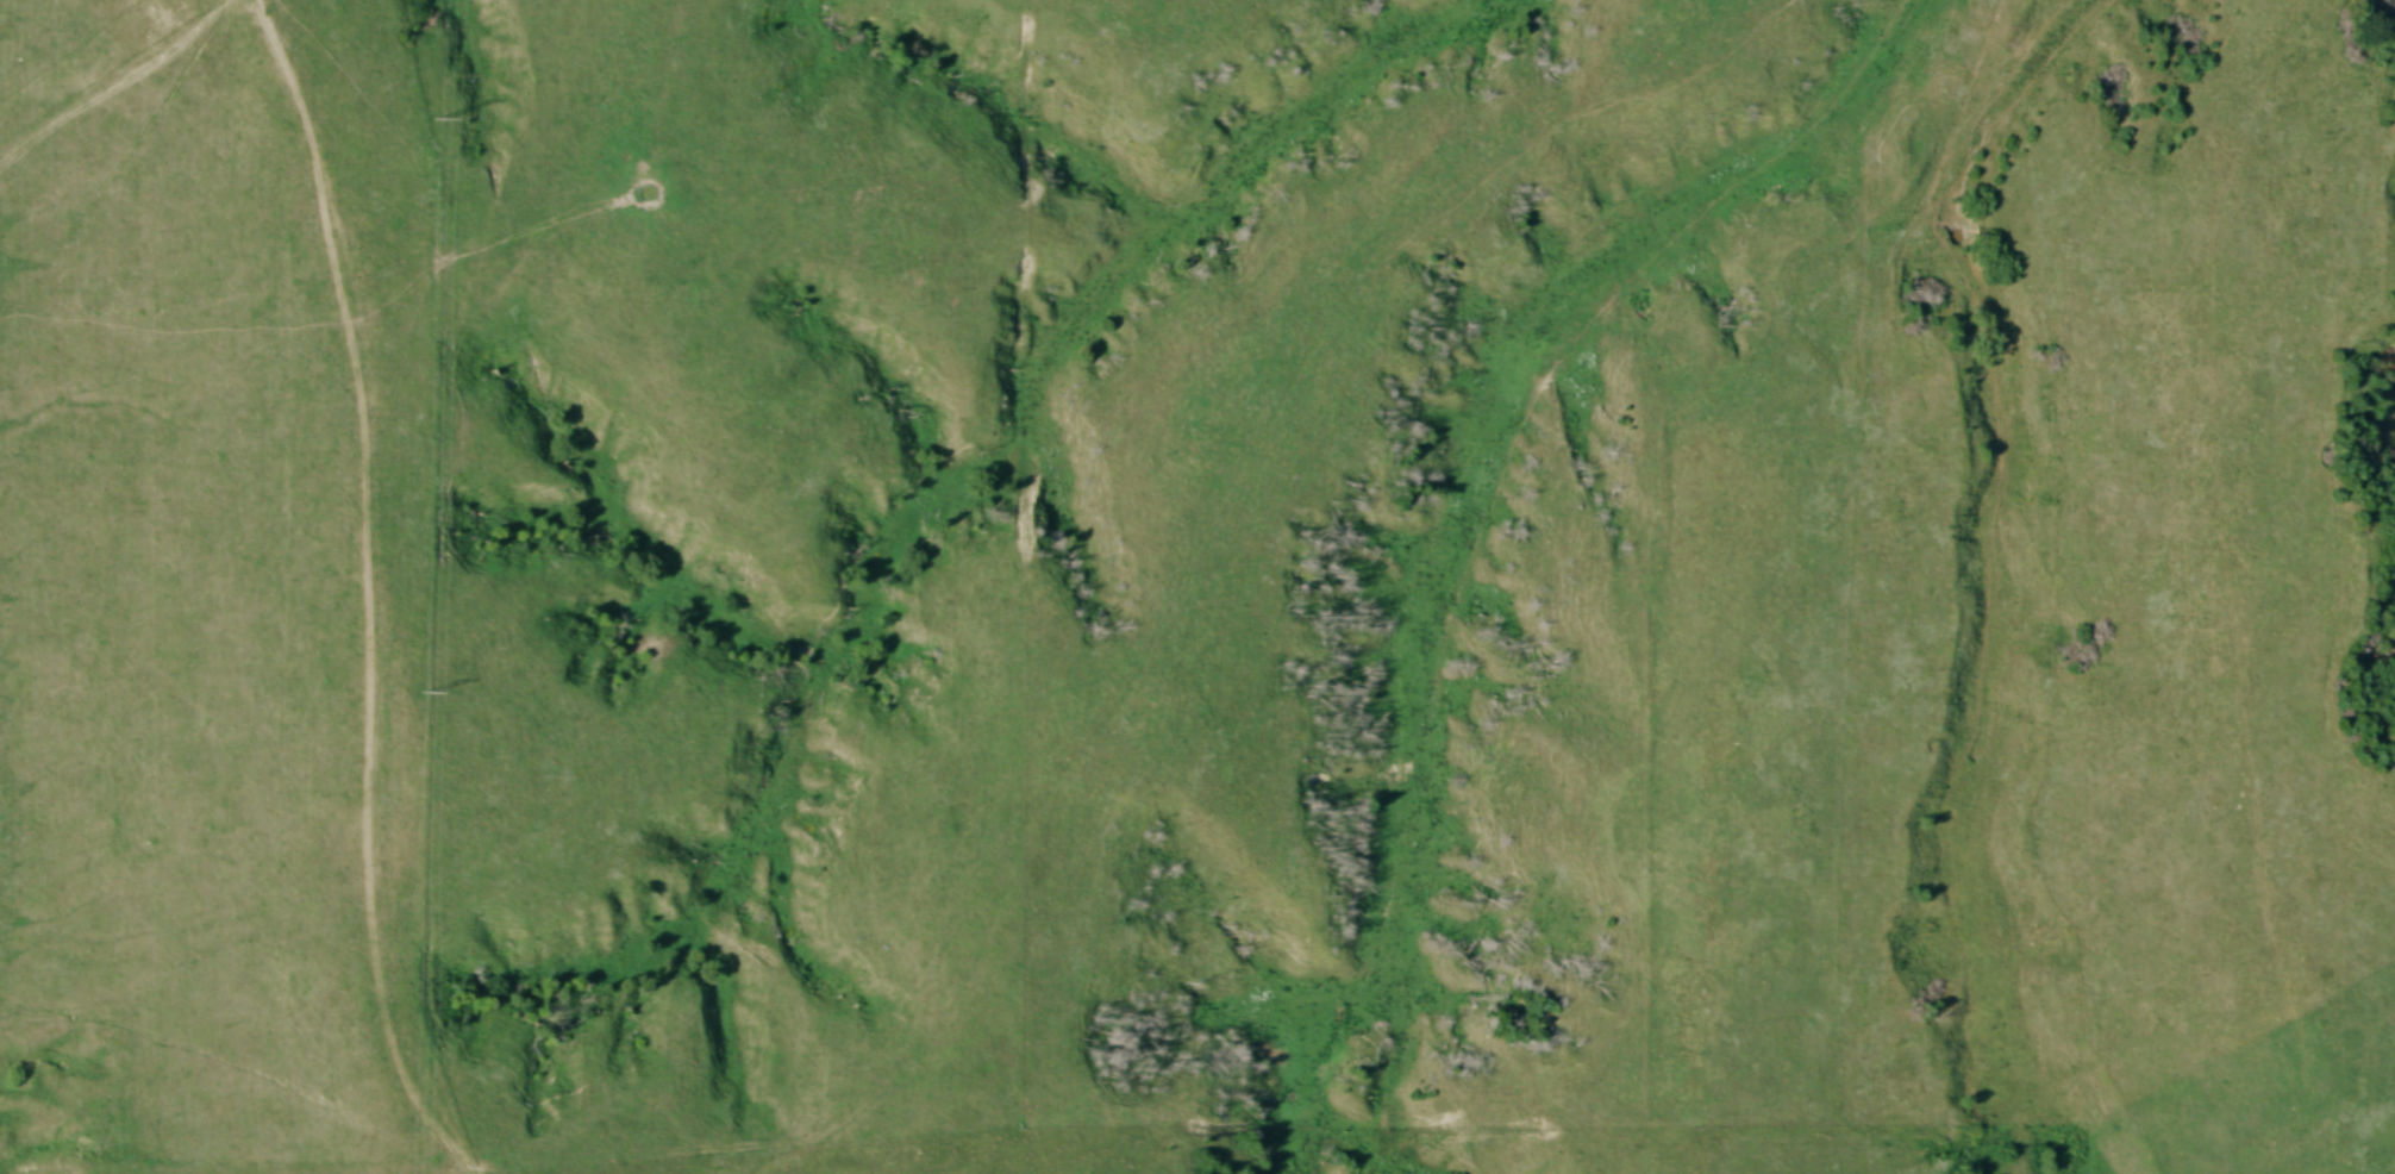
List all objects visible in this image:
power tower: (434, 120)
power tower: (426, 697)

